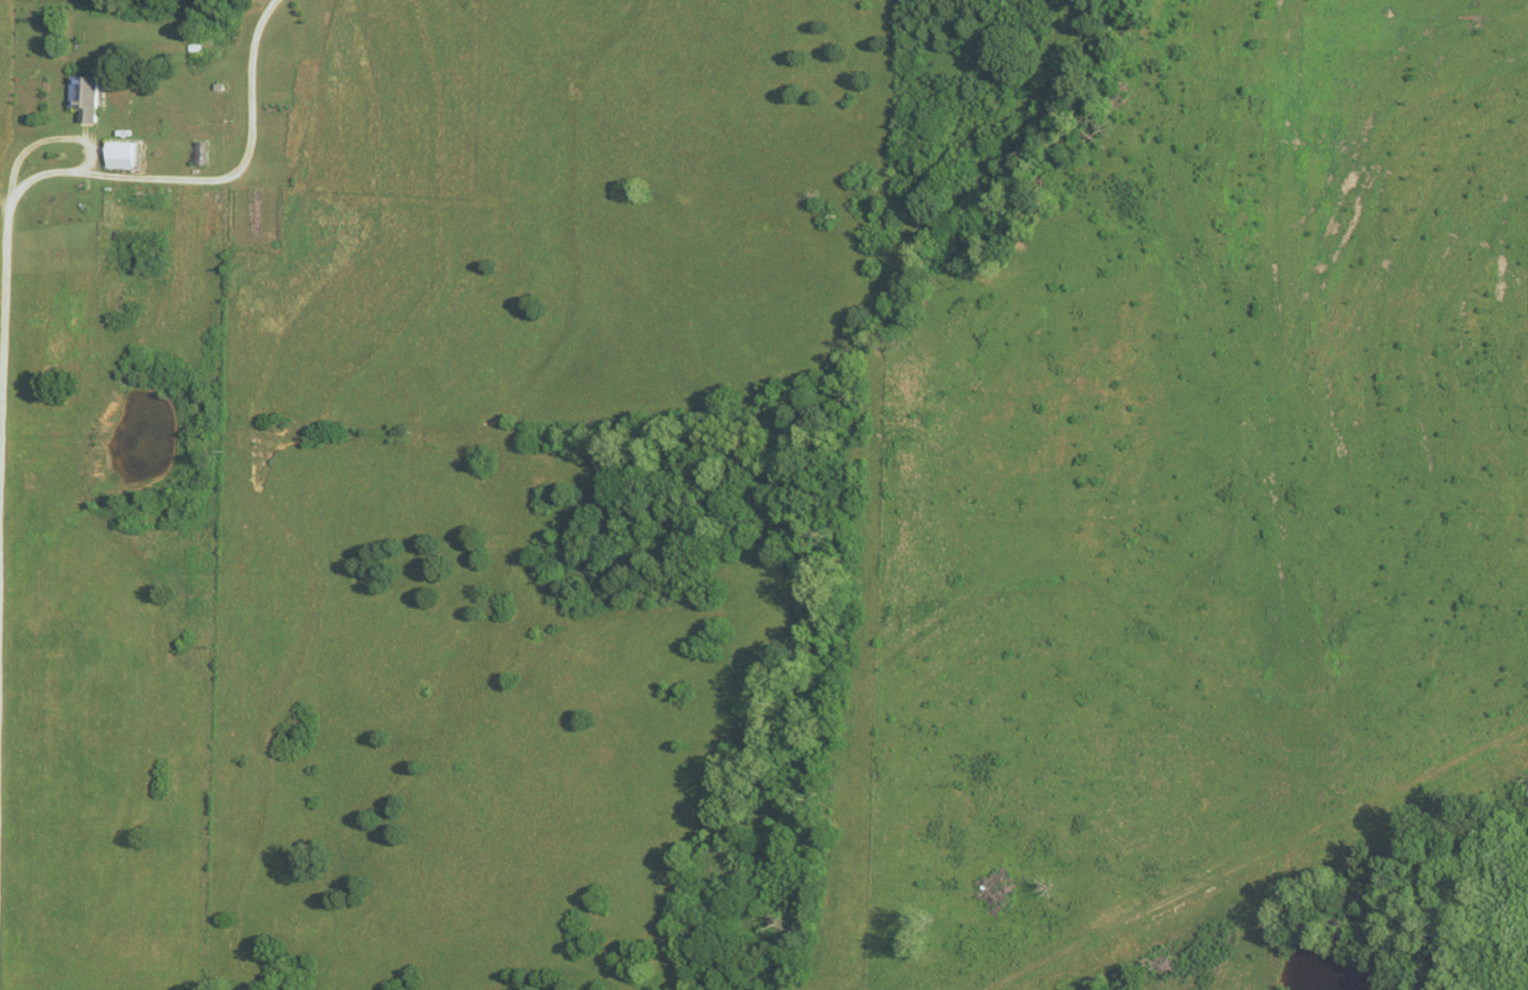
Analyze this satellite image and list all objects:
building: (88, 96)
road: (81, 146)
building: (127, 154)
road: (249, 167)
road: (3, 334)

